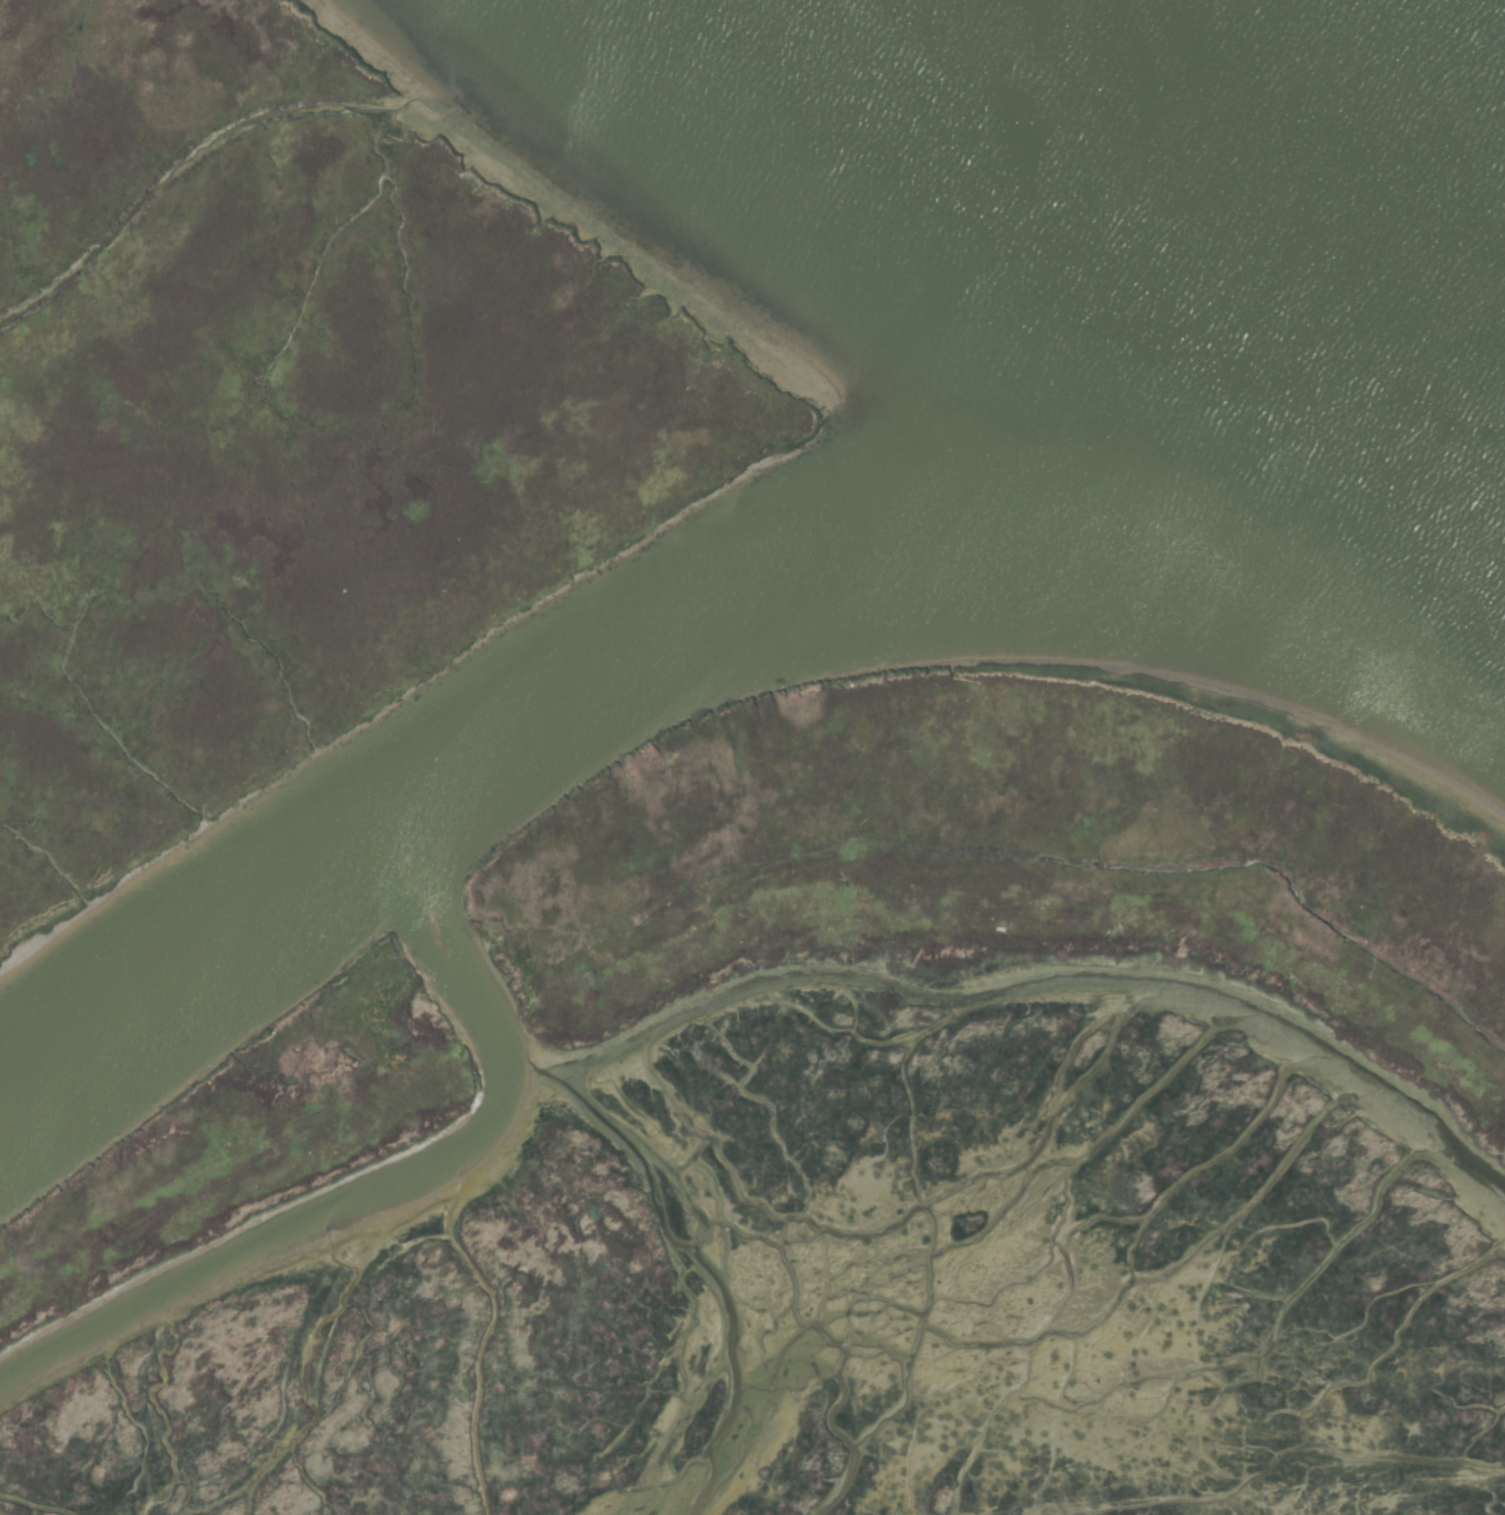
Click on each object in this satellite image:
river: (1279, 220)

